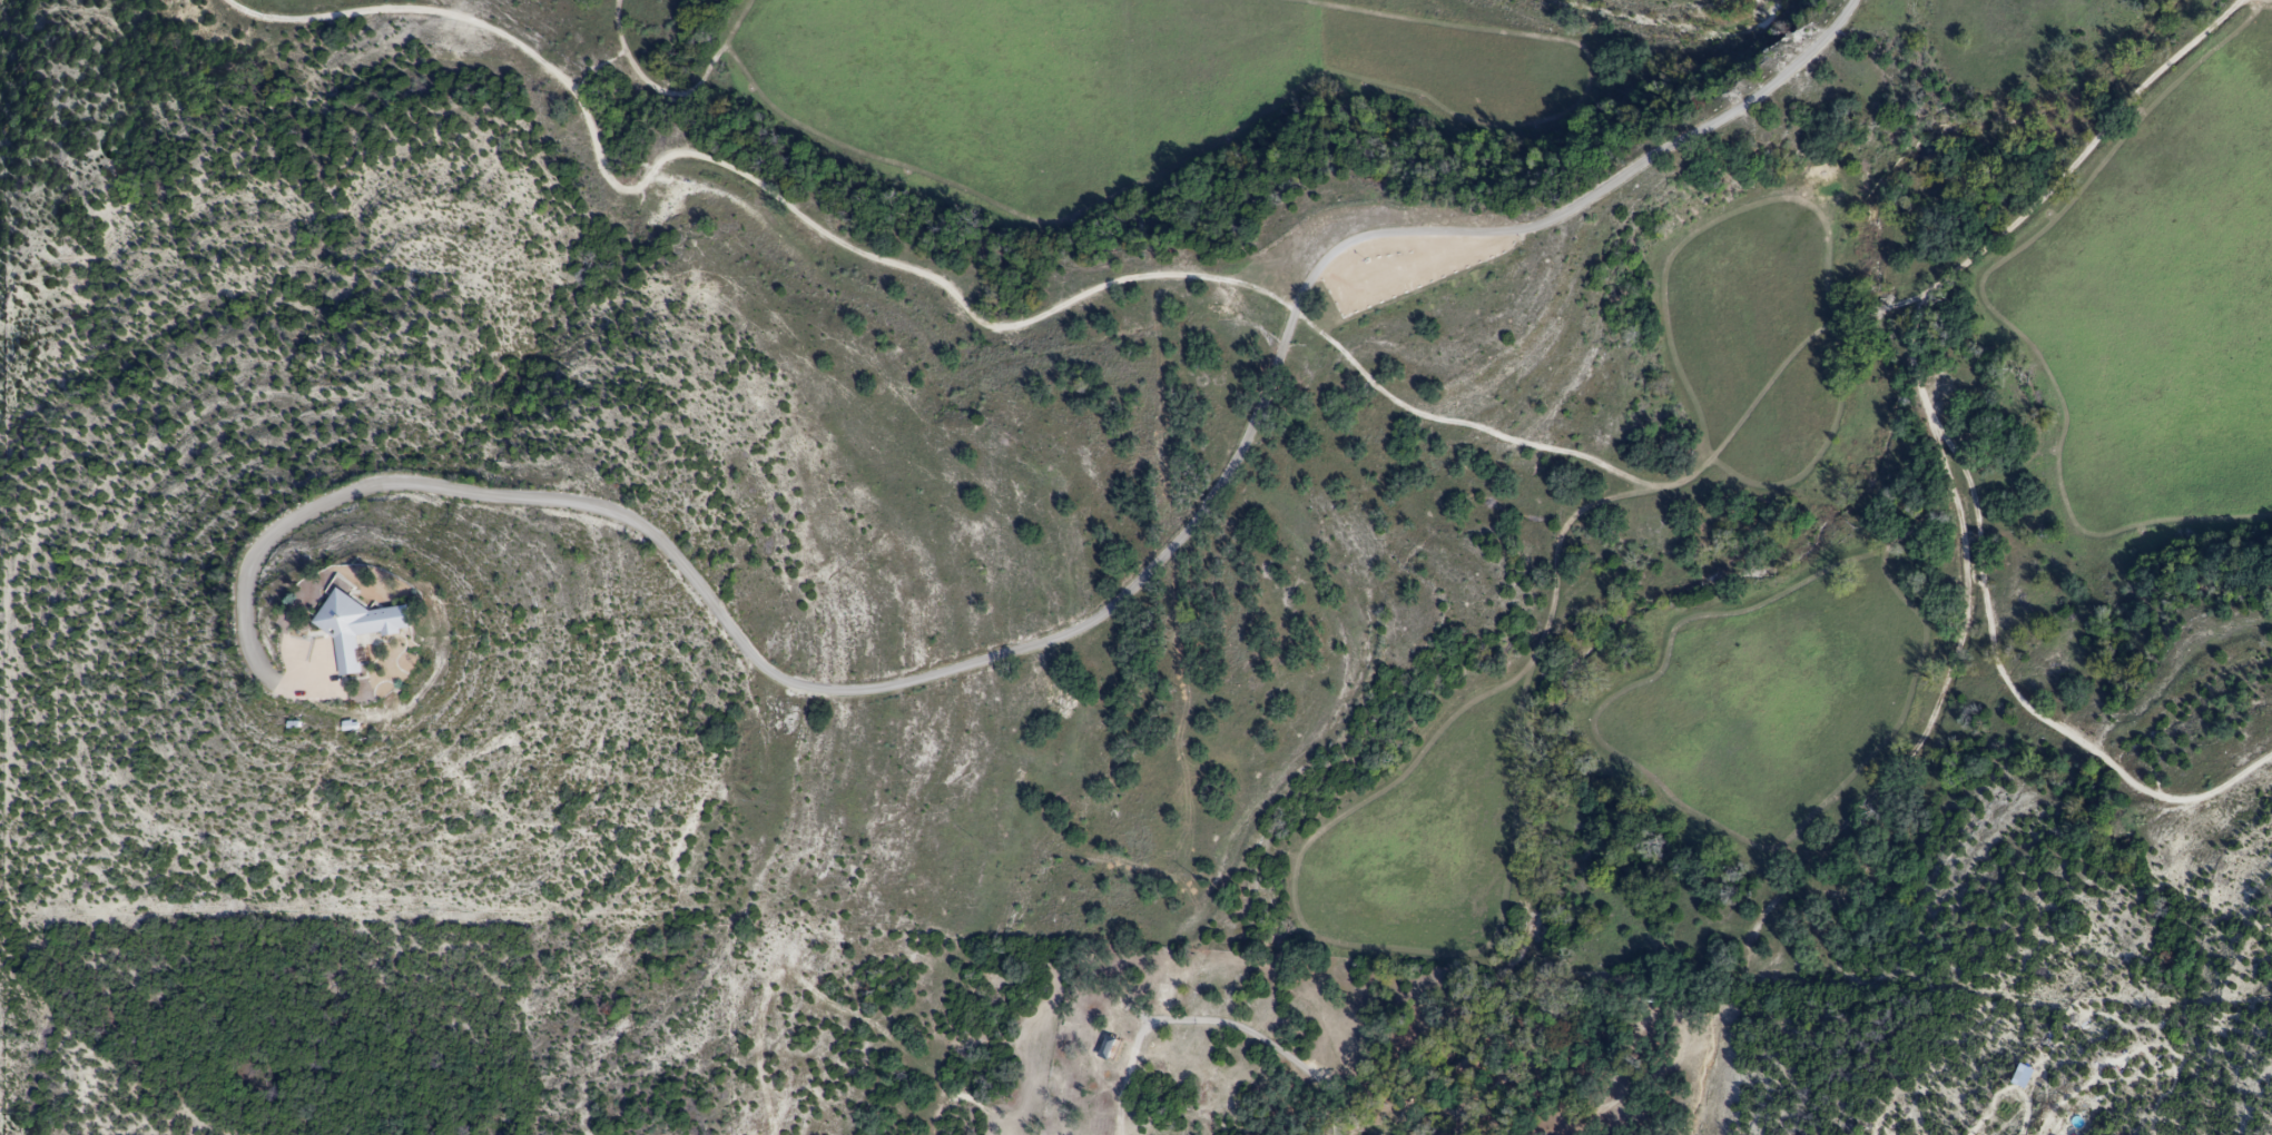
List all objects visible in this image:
road: (1478, 21)
road: (672, 82)
road: (1063, 299)
road: (1944, 440)
road: (1076, 626)
building: (355, 628)

